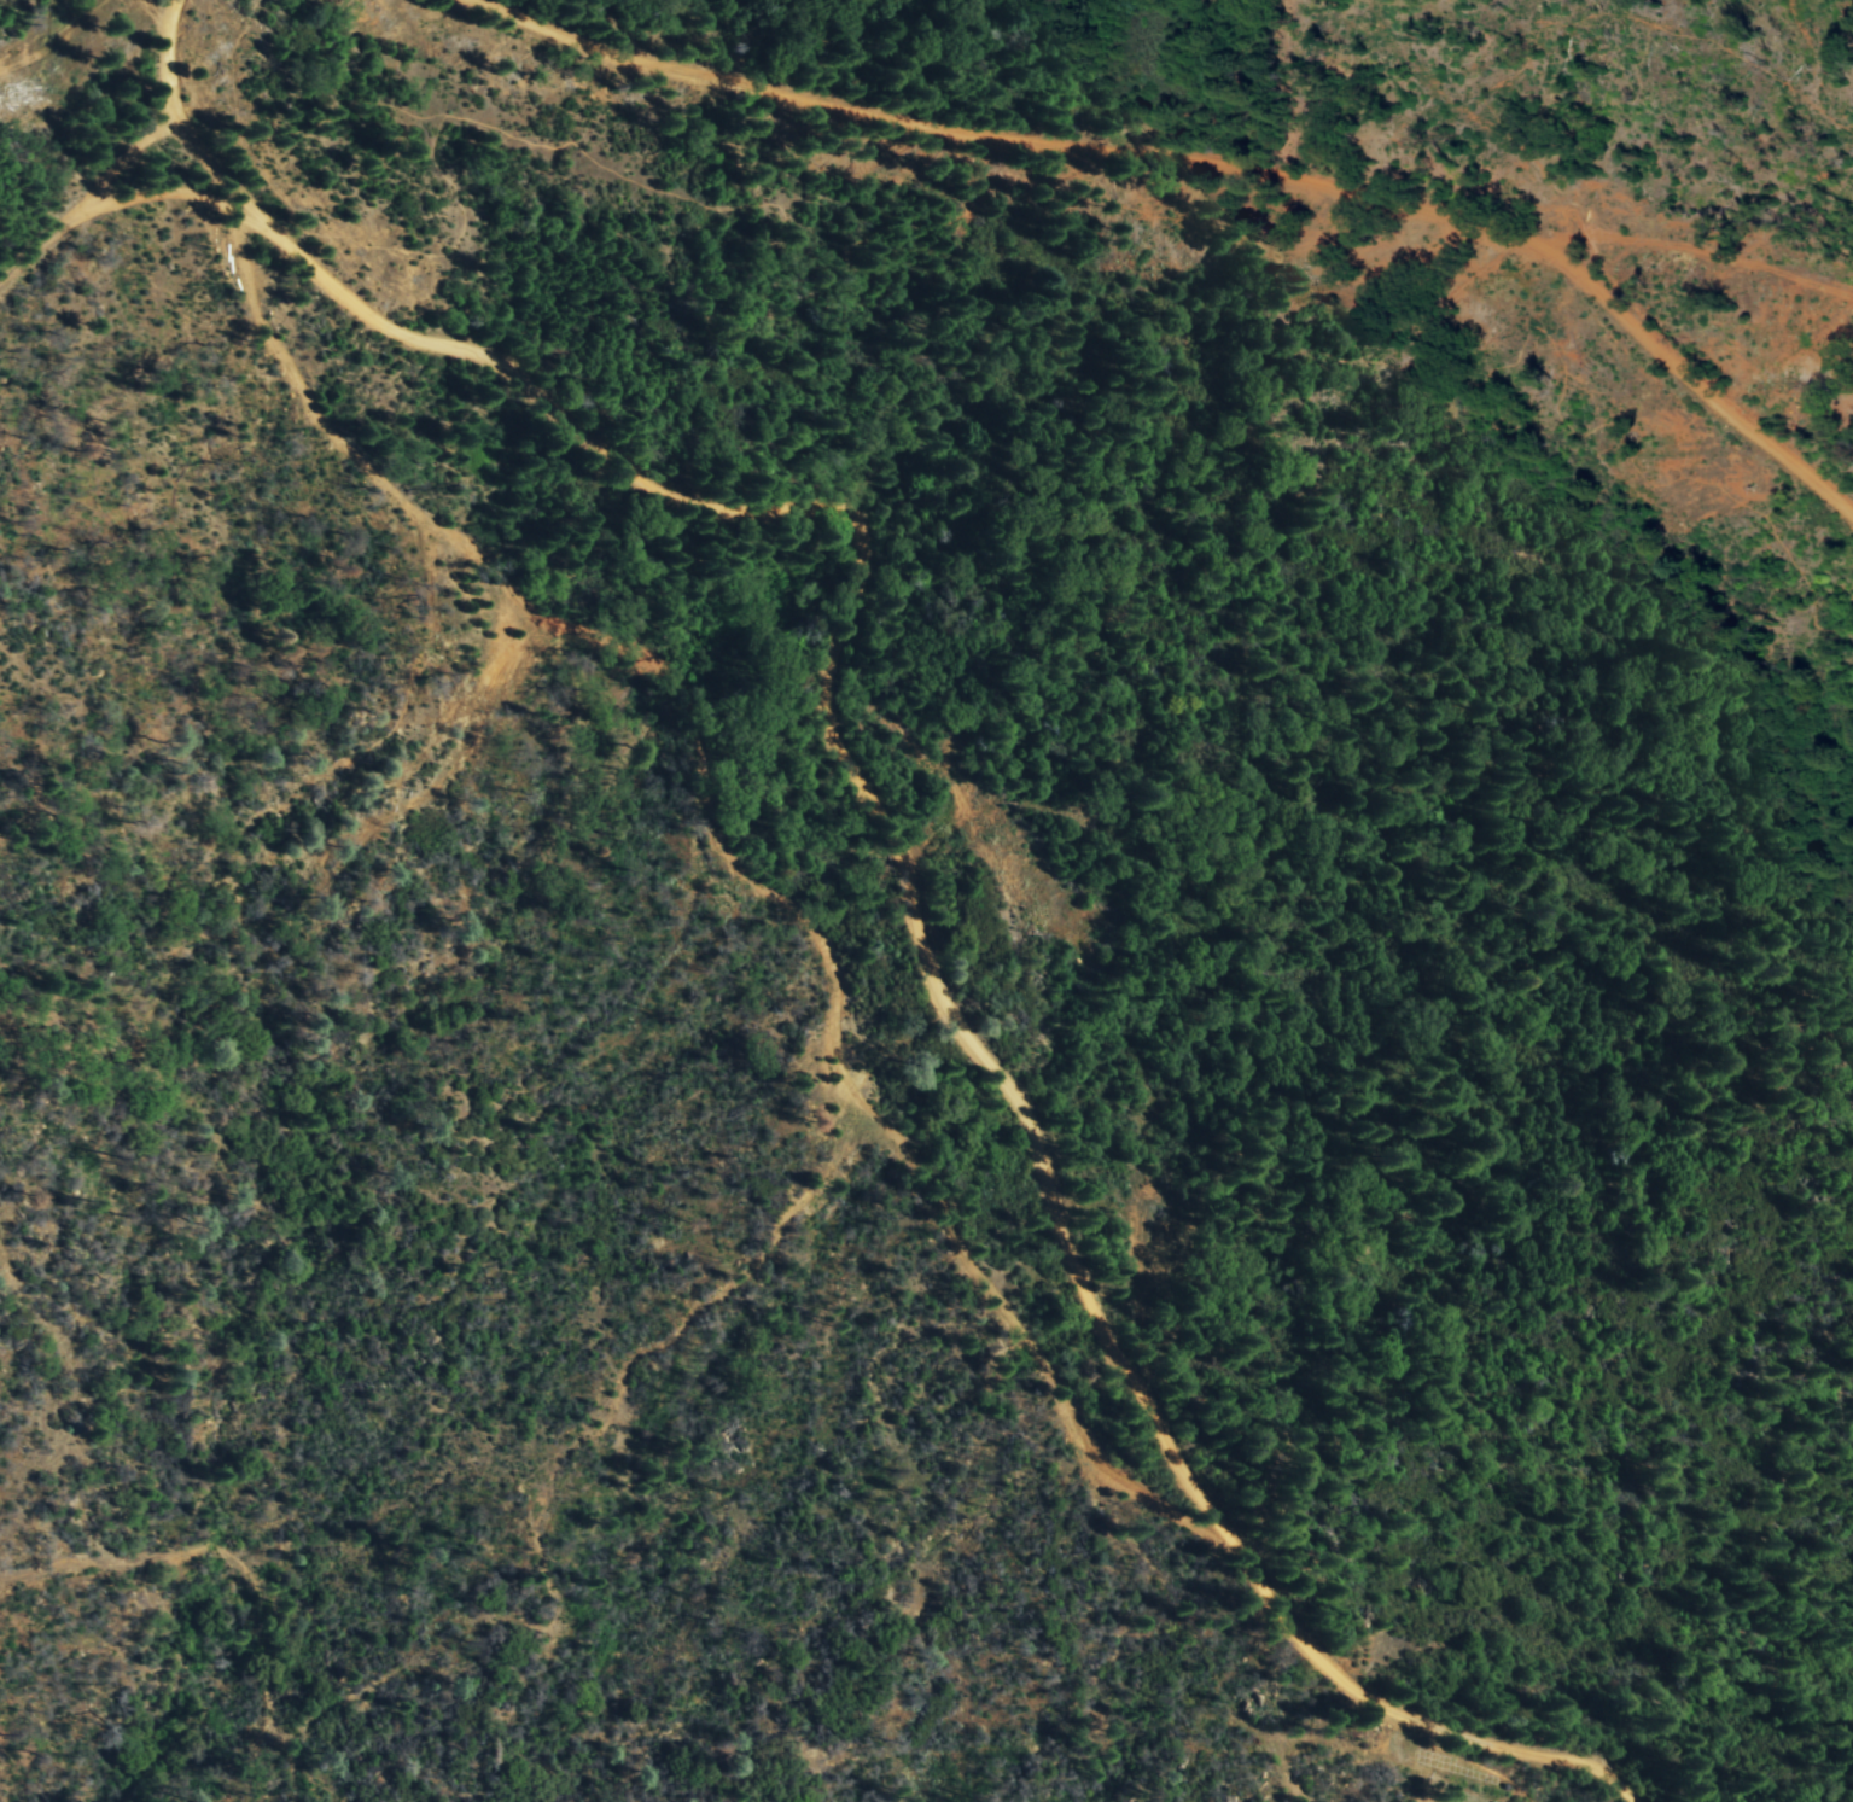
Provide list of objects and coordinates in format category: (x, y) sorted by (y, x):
road: (141, 106)
road: (222, 140)
road: (1251, 158)
road: (921, 873)

